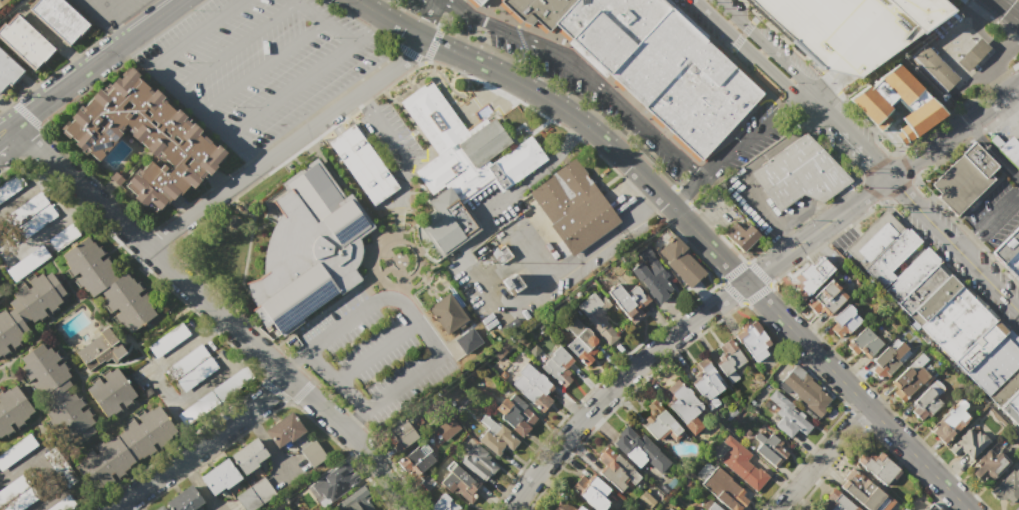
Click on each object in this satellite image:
building: (1, 1)
road: (429, 3)
road: (98, 7)
road: (114, 7)
road: (1008, 7)
parking lot: (107, 10)
building: (57, 18)
road: (428, 18)
road: (325, 21)
road: (115, 27)
road: (367, 28)
building: (848, 28)
road: (195, 32)
road: (742, 35)
road: (985, 36)
building: (22, 40)
road: (766, 44)
road: (236, 45)
road: (1003, 46)
road: (748, 50)
building: (972, 57)
building: (645, 61)
road: (95, 62)
road: (950, 63)
parking lot: (259, 64)
road: (263, 67)
building: (933, 68)
building: (6, 70)
road: (584, 74)
road: (821, 84)
parking lot: (595, 87)
road: (290, 89)
building: (883, 93)
road: (188, 102)
road: (993, 102)
road: (366, 103)
road: (816, 105)
building: (917, 116)
road: (1006, 117)
building: (1018, 120)
road: (832, 122)
road: (5, 126)
road: (5, 130)
parking lot: (389, 135)
road: (388, 136)
road: (752, 136)
building: (139, 140)
road: (286, 145)
road: (992, 150)
building: (1010, 150)
road: (241, 151)
road: (927, 151)
road: (863, 154)
building: (460, 163)
road: (550, 163)
building: (362, 164)
road: (402, 172)
building: (797, 173)
road: (913, 174)
building: (963, 178)
road: (26, 186)
road: (682, 188)
road: (649, 203)
road: (495, 205)
building: (571, 205)
road: (823, 211)
road: (996, 212)
building: (33, 213)
road: (772, 218)
road: (687, 222)
road: (42, 232)
building: (739, 234)
building: (66, 236)
building: (872, 238)
road: (965, 242)
road: (953, 245)
building: (306, 250)
building: (1009, 250)
building: (479, 251)
road: (518, 257)
building: (678, 258)
building: (26, 264)
building: (920, 264)
building: (87, 266)
building: (650, 273)
building: (809, 276)
road: (722, 281)
building: (508, 283)
building: (0, 290)
building: (921, 290)
building: (37, 296)
road: (524, 299)
building: (629, 299)
building: (825, 299)
building: (127, 301)
road: (214, 312)
building: (447, 313)
building: (601, 318)
road: (417, 321)
building: (842, 321)
building: (956, 322)
building: (11, 327)
road: (683, 328)
building: (750, 337)
building: (576, 338)
building: (167, 340)
building: (466, 340)
building: (896, 341)
building: (862, 343)
road: (215, 348)
road: (376, 349)
building: (96, 351)
building: (728, 359)
road: (293, 360)
building: (884, 362)
building: (995, 362)
building: (560, 367)
building: (191, 368)
building: (46, 374)
road: (335, 378)
building: (705, 379)
building: (904, 383)
building: (532, 387)
building: (1005, 387)
road: (166, 390)
building: (804, 390)
building: (109, 392)
building: (214, 395)
building: (683, 404)
building: (924, 404)
building: (12, 409)
building: (1011, 409)
building: (515, 414)
building: (787, 416)
building: (71, 419)
road: (356, 421)
building: (660, 421)
building: (951, 421)
building: (445, 427)
building: (282, 430)
building: (399, 435)
building: (495, 439)
road: (267, 442)
building: (968, 444)
road: (201, 445)
building: (126, 446)
building: (633, 446)
building: (17, 449)
building: (771, 450)
building: (311, 453)
building: (248, 455)
road: (821, 458)
building: (54, 460)
building: (414, 460)
building: (479, 463)
building: (741, 464)
building: (878, 466)
road: (47, 467)
building: (989, 467)
road: (288, 470)
building: (614, 470)
building: (219, 477)
building: (334, 483)
building: (459, 484)
road: (197, 485)
building: (1007, 486)
building: (592, 491)
building: (864, 492)
building: (16, 494)
building: (254, 494)
building: (728, 495)
building: (645, 499)
building: (183, 500)
building: (355, 501)
building: (835, 502)
building: (442, 503)
building: (61, 504)
building: (567, 504)
building: (711, 507)
building: (157, 508)
building: (903, 508)
building: (929, 508)
road: (116, 509)
road: (234, 509)
building: (280, 509)

